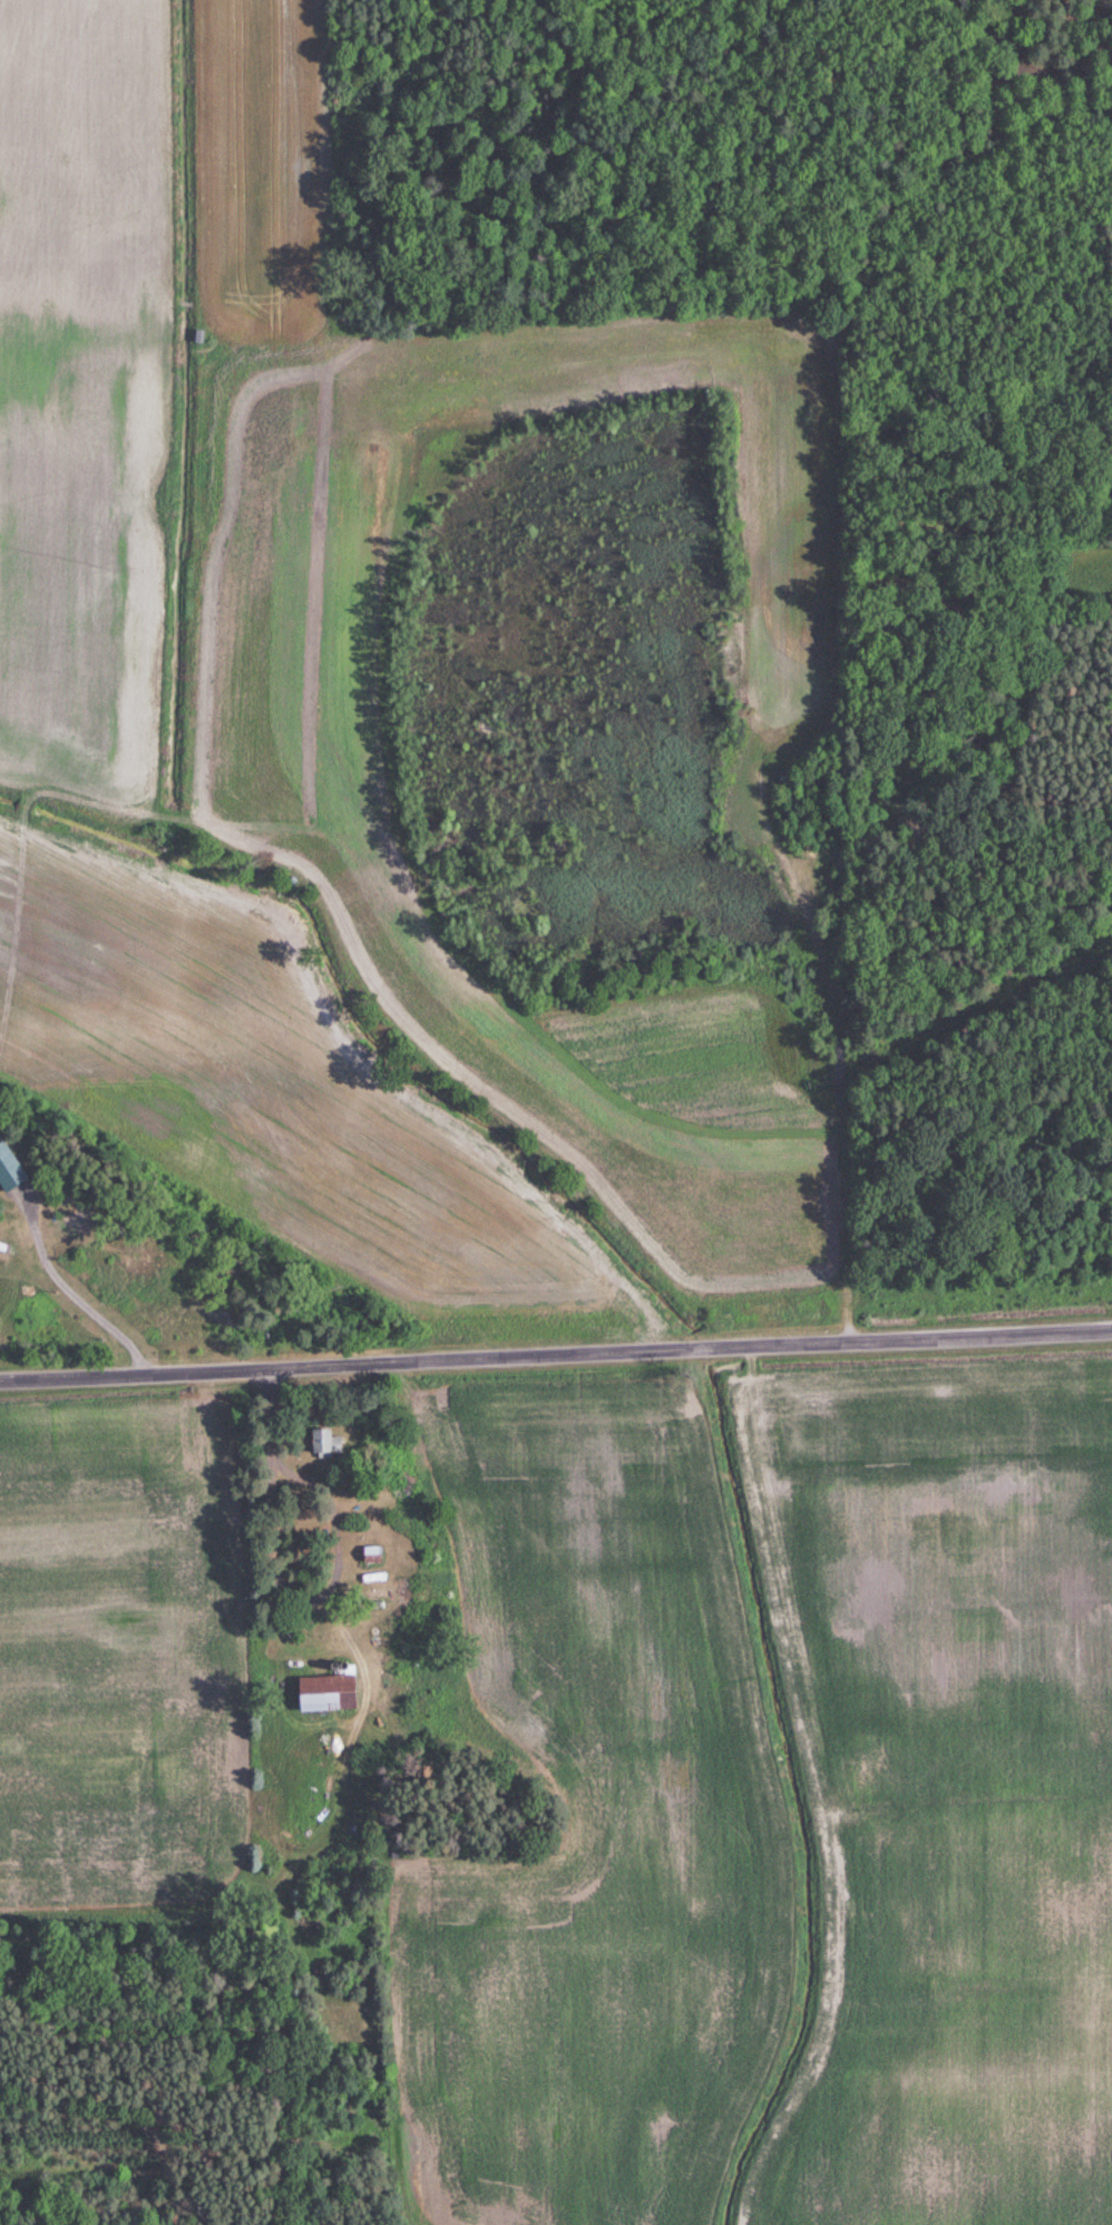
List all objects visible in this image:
building: (9, 1173)
building: (2, 1232)
road: (556, 1355)
building: (324, 1444)
building: (368, 1555)
building: (320, 1692)

